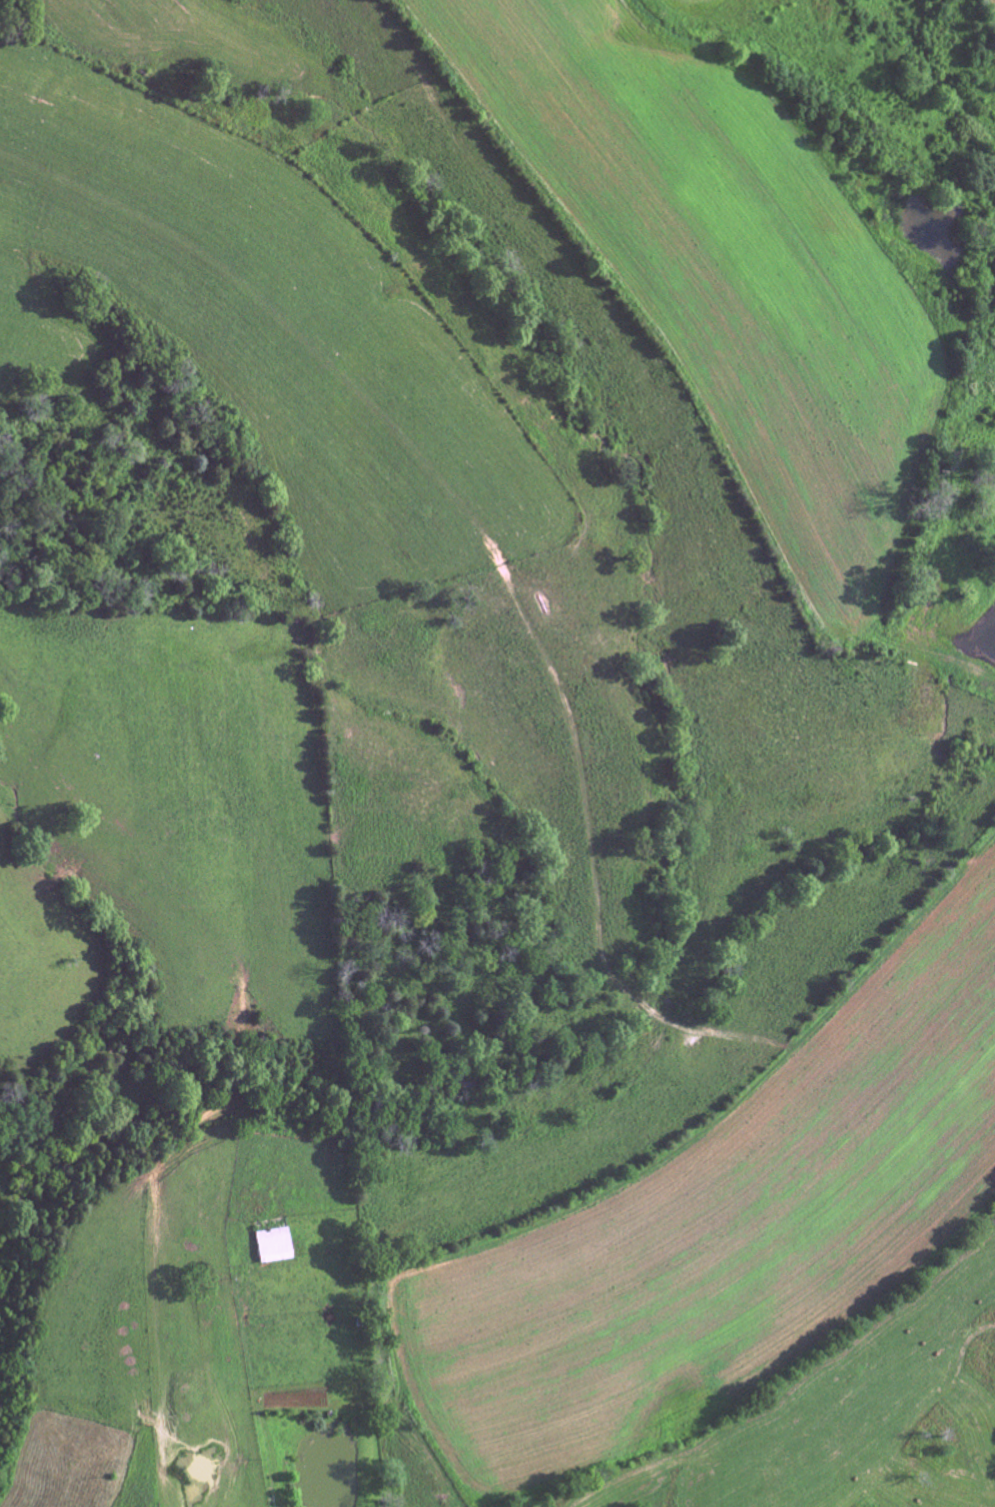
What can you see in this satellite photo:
building: (272, 1248)

